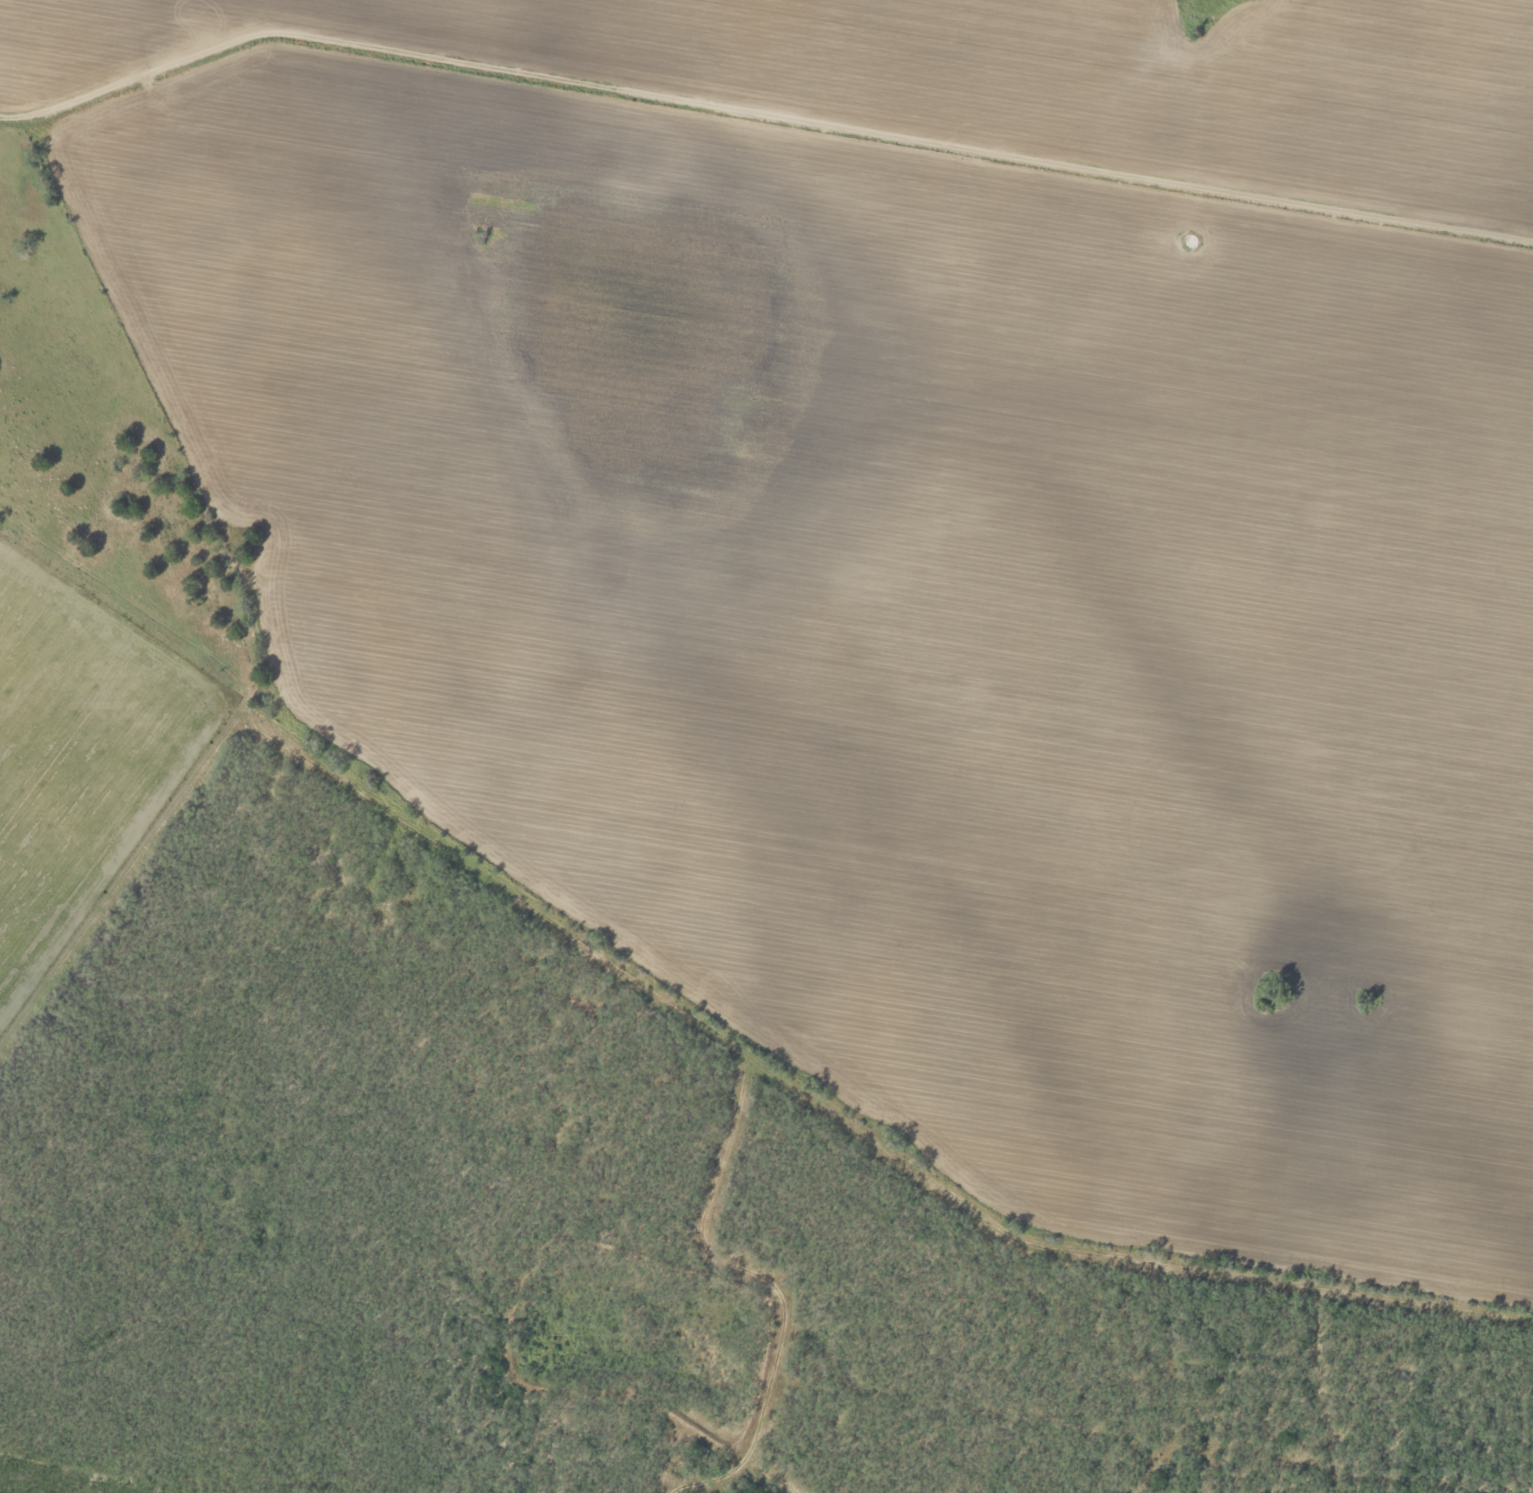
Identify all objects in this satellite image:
road: (765, 106)
road: (221, 622)

